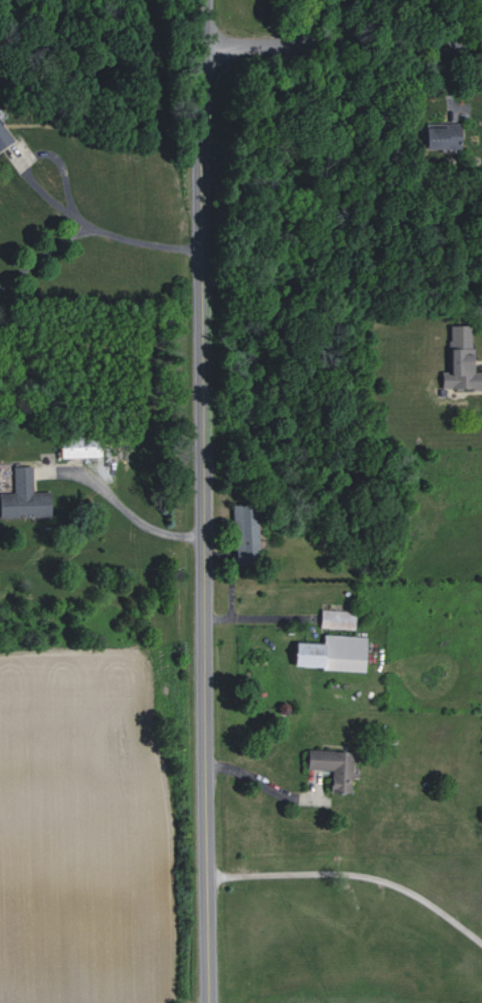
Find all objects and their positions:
road: (342, 39)
building: (442, 136)
building: (3, 138)
road: (42, 155)
road: (92, 229)
building: (461, 361)
building: (81, 446)
building: (24, 497)
road: (202, 501)
road: (122, 508)
building: (245, 534)
building: (337, 619)
building: (331, 653)
building: (333, 767)
road: (353, 874)

